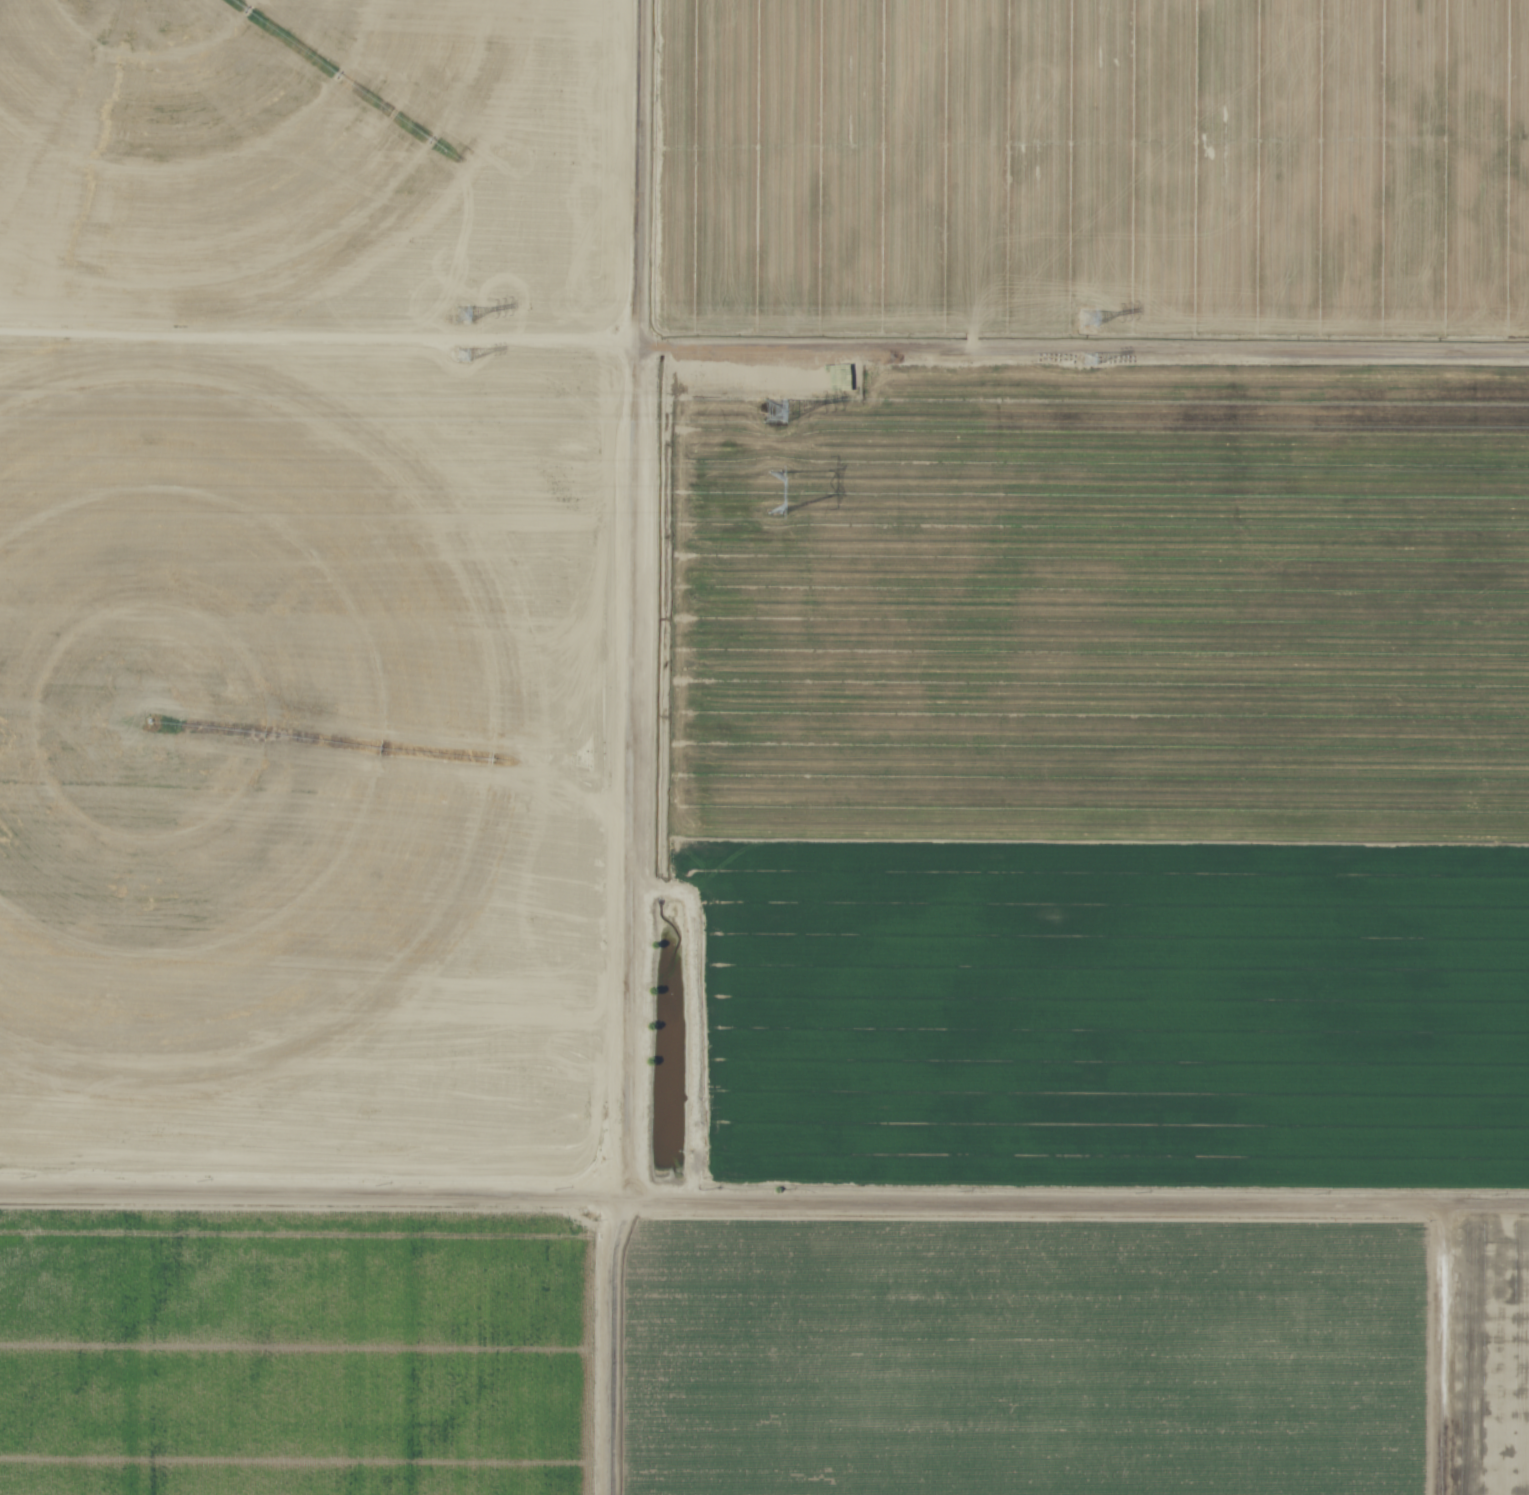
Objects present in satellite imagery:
power tower: (467, 314)
power tower: (1087, 323)
power tower: (470, 355)
power tower: (1090, 364)
power tower: (777, 413)
power tower: (779, 495)
road: (625, 747)
crop: (764, 747)
road: (764, 1193)

